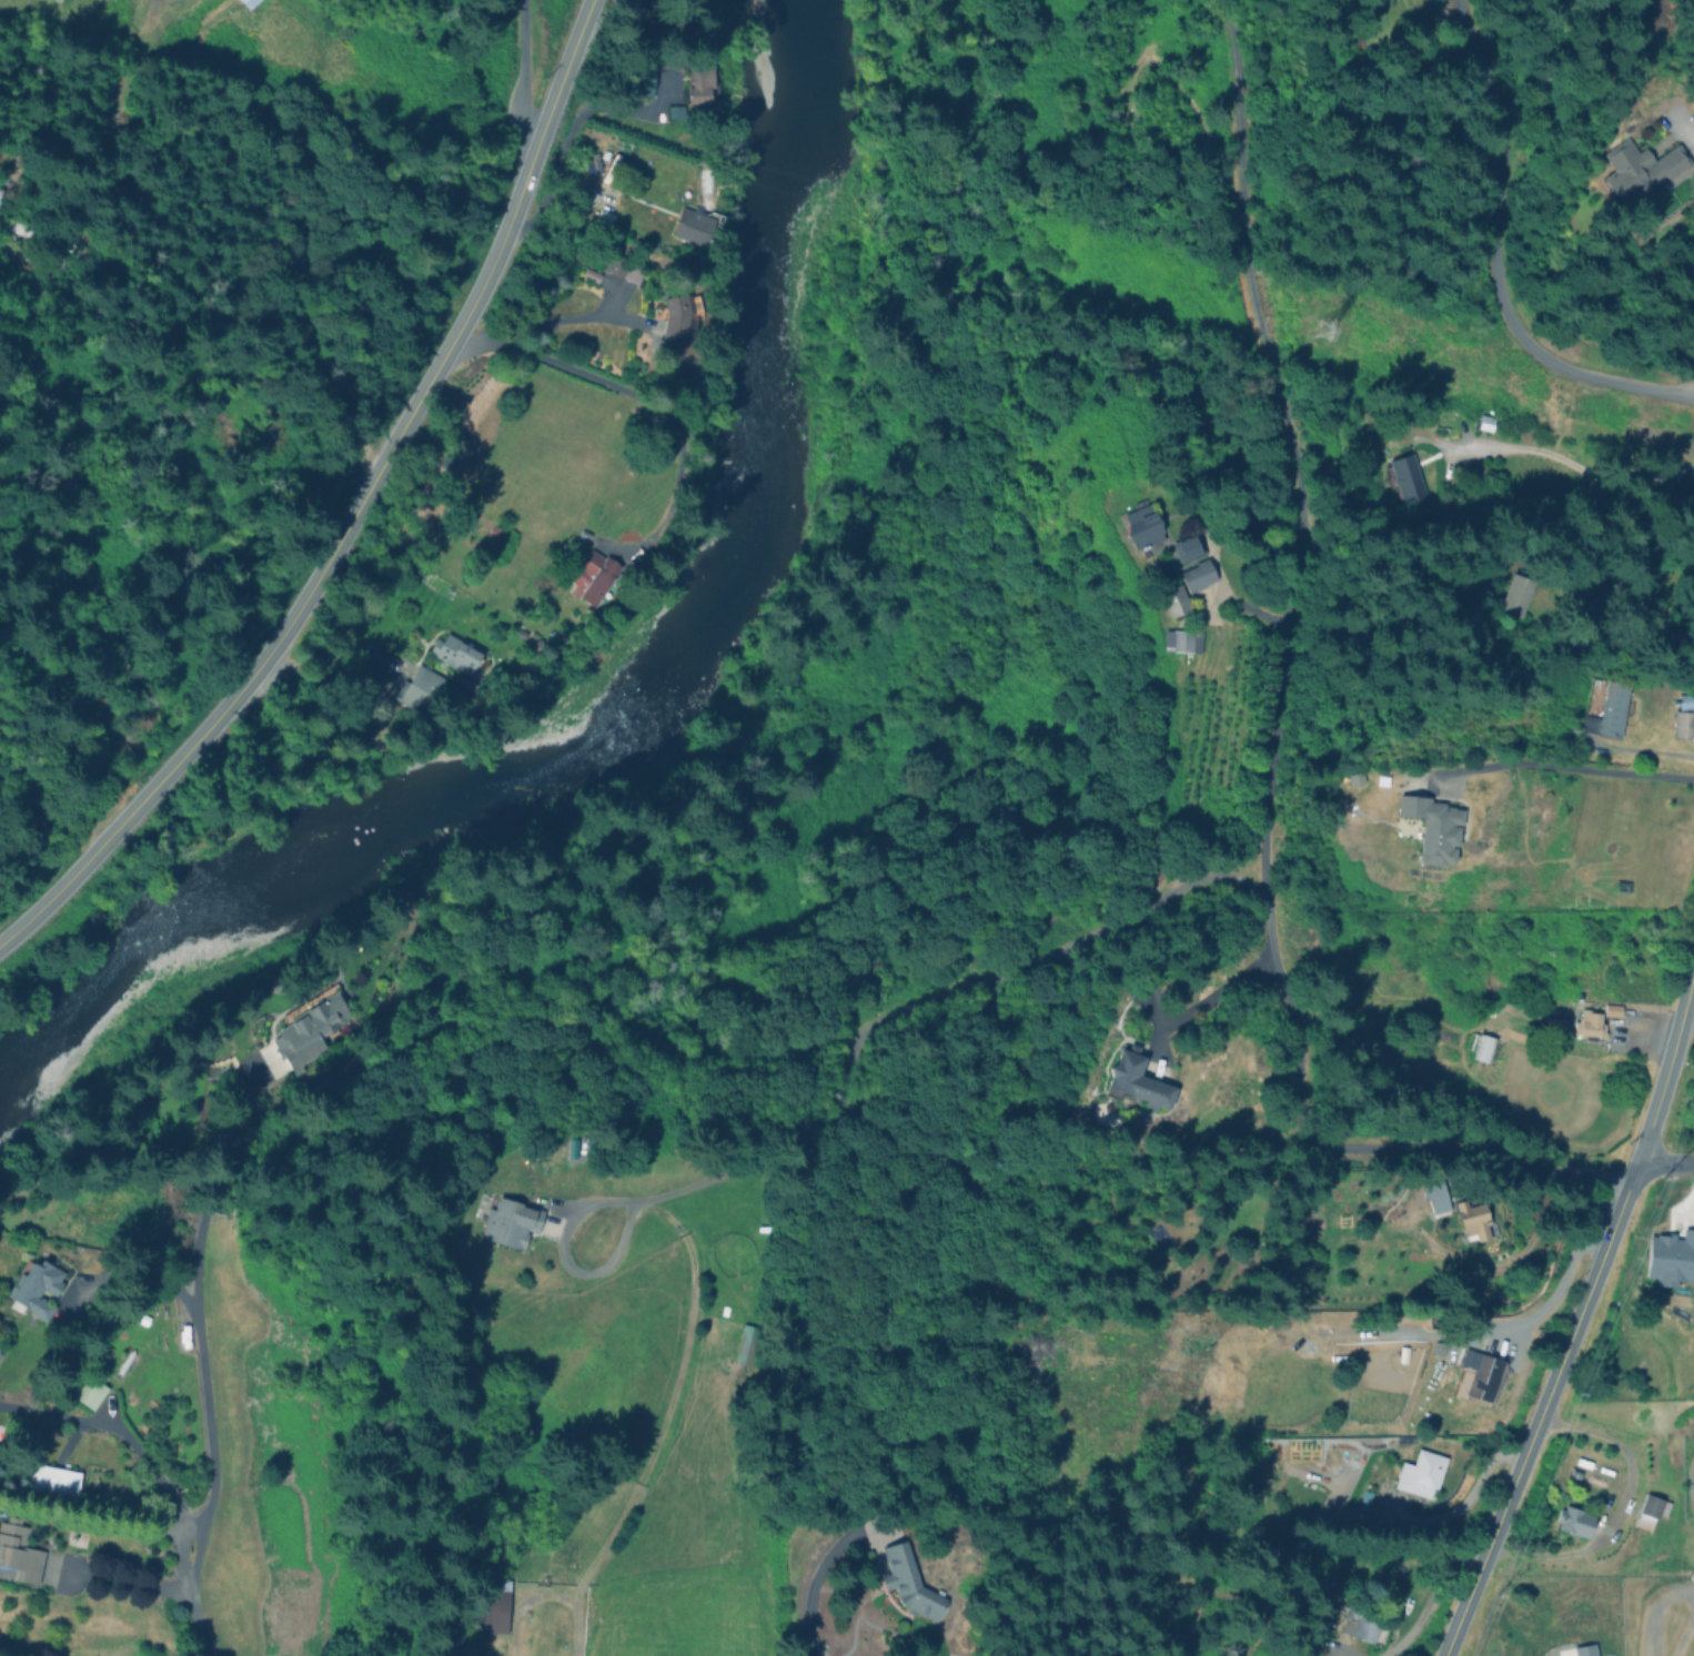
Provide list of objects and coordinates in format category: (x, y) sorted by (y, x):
building: (246, 2)
power tower: (47, 3)
road: (522, 71)
building: (642, 80)
building: (700, 88)
building: (1637, 169)
building: (694, 225)
road: (1491, 262)
building: (622, 267)
road: (558, 319)
building: (675, 321)
power tower: (1324, 339)
road: (667, 411)
road: (1579, 466)
building: (1405, 479)
road: (354, 509)
building: (1138, 523)
building: (1187, 547)
road: (1293, 574)
building: (1197, 575)
building: (591, 577)
building: (1515, 594)
building: (1173, 600)
road: (1249, 608)
building: (1181, 640)
building: (453, 653)
building: (417, 686)
building: (1607, 710)
river: (653, 720)
building: (1683, 724)
road: (1565, 766)
building: (1432, 827)
road: (1203, 998)
building: (1611, 1010)
building: (1589, 1023)
building: (307, 1030)
building: (1479, 1046)
road: (1667, 1062)
building: (1136, 1079)
road: (846, 1100)
road: (1472, 1154)
road: (1665, 1162)
building: (1434, 1198)
building: (505, 1219)
building: (1474, 1223)
building: (1670, 1258)
building: (33, 1283)
road: (199, 1337)
building: (123, 1360)
building: (1480, 1374)
building: (85, 1387)
road: (1542, 1407)
road: (111, 1436)
building: (1294, 1445)
building: (1693, 1462)
building: (1420, 1474)
building: (50, 1476)
road: (1472, 1488)
building: (1, 1508)
road: (1620, 1508)
building: (1651, 1508)
building: (1573, 1518)
building: (18, 1549)
building: (908, 1581)
road: (814, 1585)
road: (1677, 1589)
road: (1430, 1593)
road: (185, 1595)
building: (485, 1605)
building: (1364, 1619)

